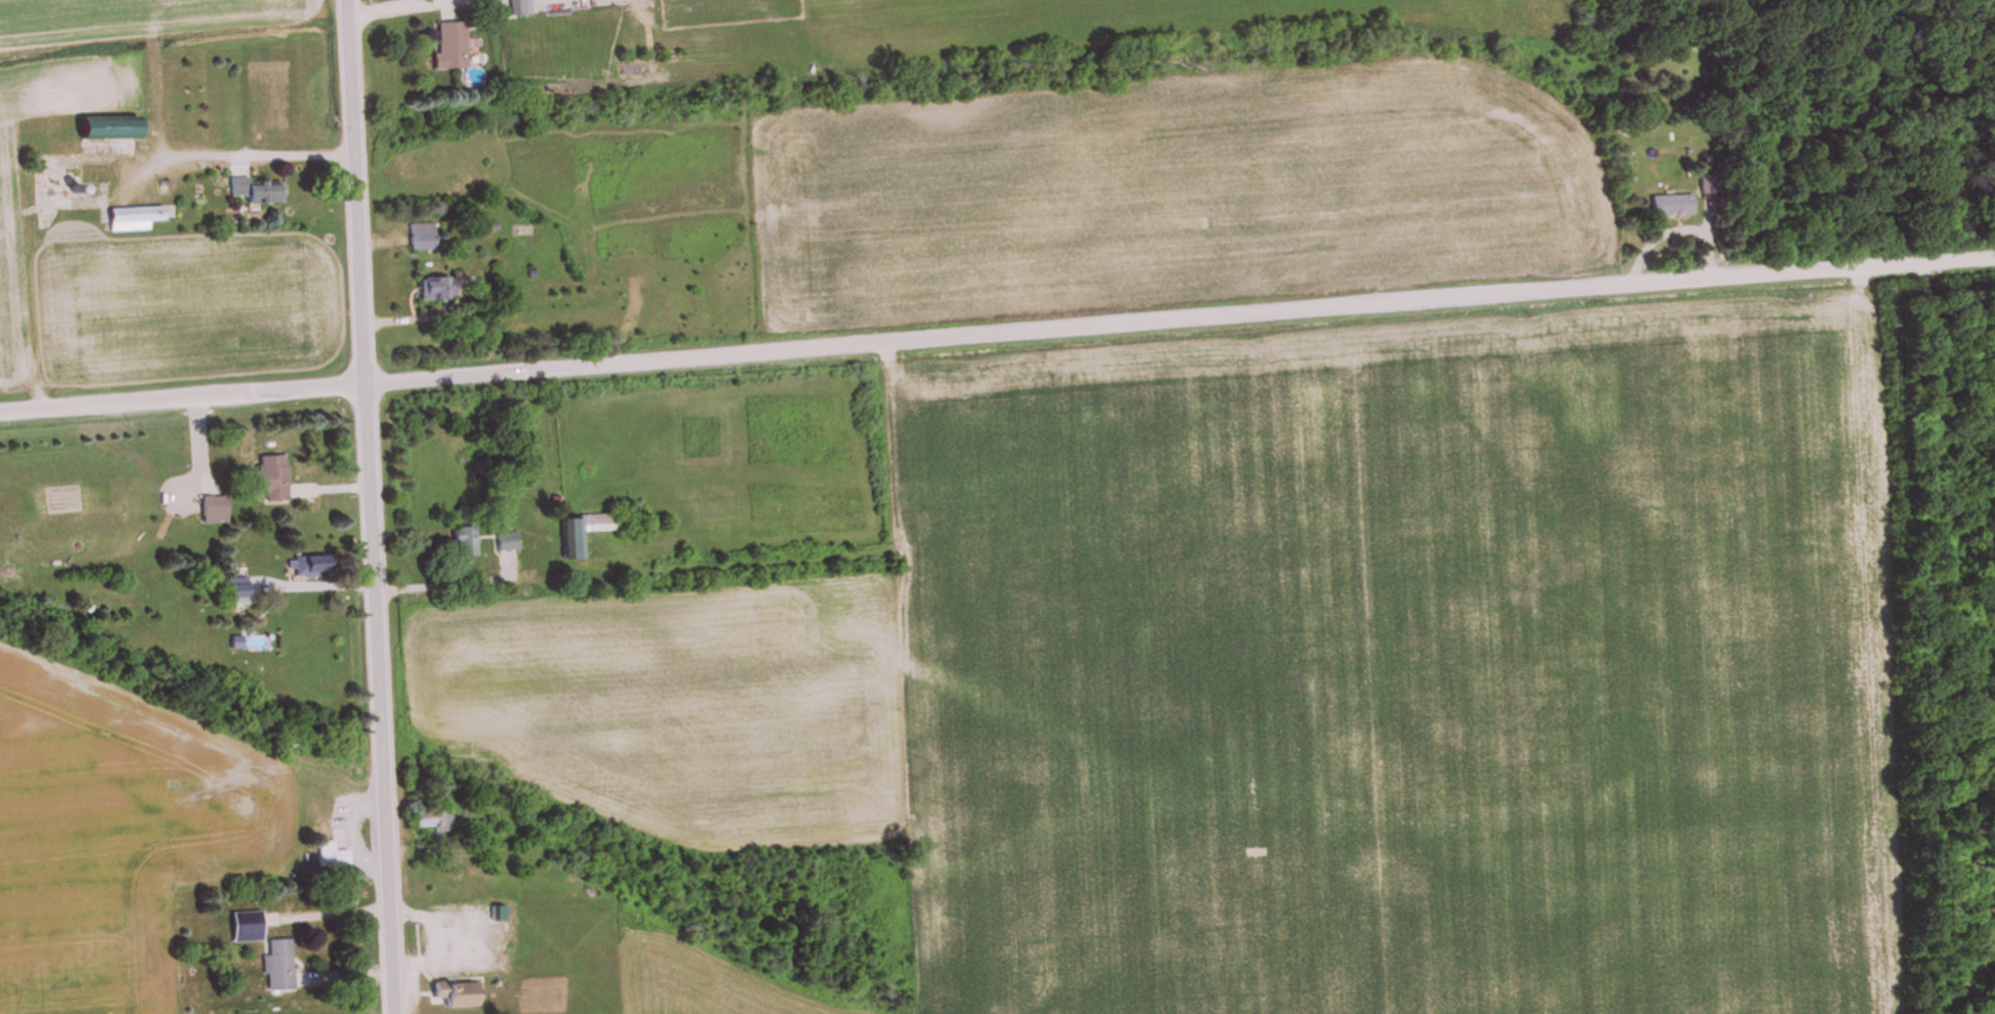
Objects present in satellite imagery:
building: (520, 8)
building: (449, 47)
building: (104, 128)
road: (259, 157)
building: (1709, 187)
building: (257, 192)
building: (1673, 207)
building: (131, 218)
building: (421, 237)
building: (436, 289)
road: (997, 333)
building: (268, 478)
road: (364, 507)
building: (213, 510)
building: (579, 534)
building: (463, 542)
building: (507, 542)
building: (307, 566)
building: (430, 821)
building: (330, 856)
building: (245, 926)
building: (278, 967)
building: (451, 996)

